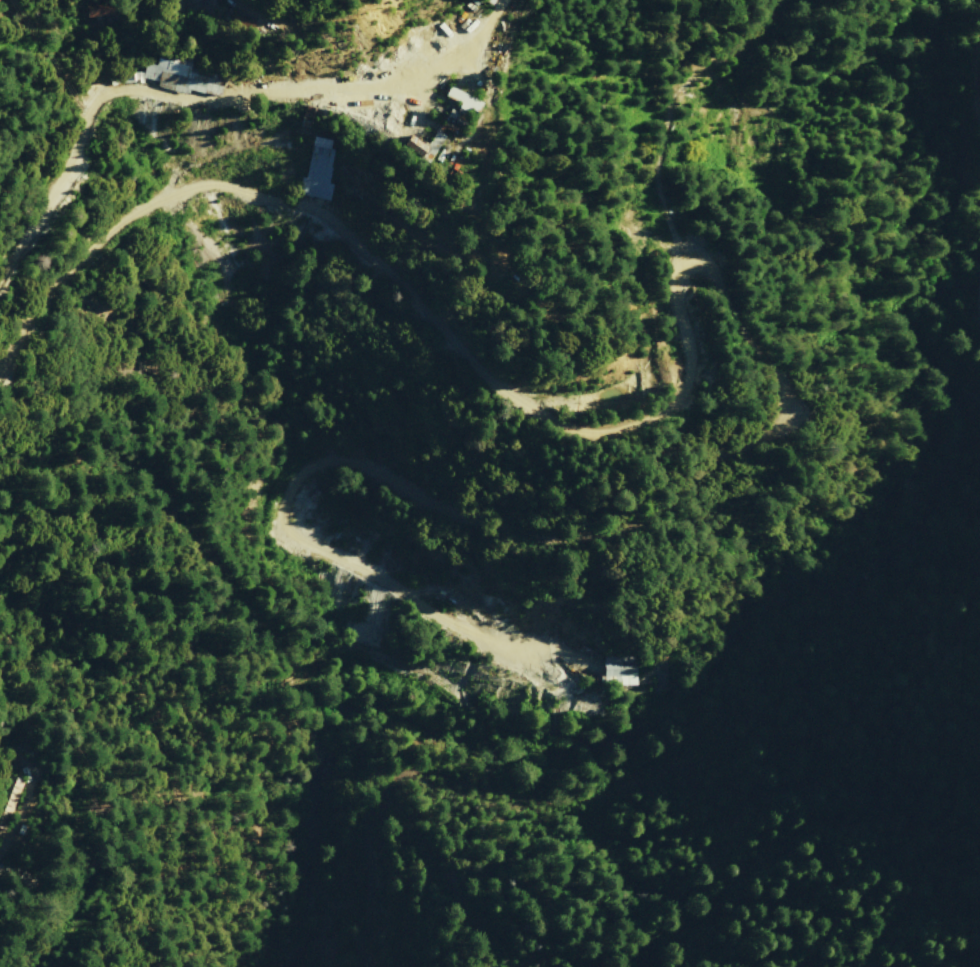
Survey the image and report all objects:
building: (98, 9)
building: (176, 77)
road: (979, 77)
road: (112, 99)
building: (458, 111)
building: (424, 144)
building: (317, 170)
road: (447, 336)
building: (617, 669)

